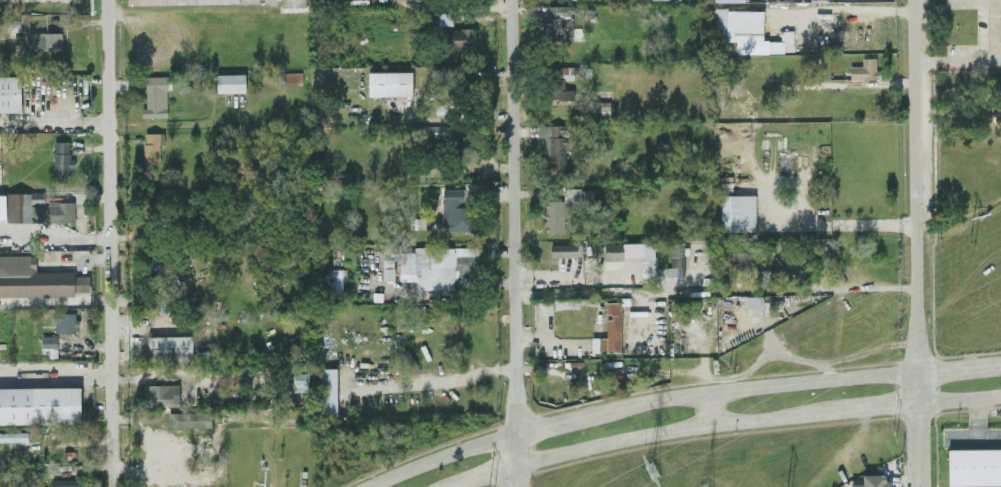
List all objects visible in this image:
building: (726, 0)
building: (179, 1)
building: (293, 3)
road: (852, 7)
building: (559, 22)
building: (741, 22)
building: (719, 29)
building: (459, 37)
building: (45, 40)
building: (770, 43)
road: (960, 59)
building: (865, 69)
building: (291, 77)
building: (562, 81)
building: (231, 82)
building: (390, 82)
building: (10, 92)
building: (155, 96)
building: (600, 106)
building: (441, 108)
road: (53, 120)
building: (434, 130)
building: (152, 145)
building: (469, 146)
road: (511, 146)
building: (555, 146)
building: (62, 159)
road: (918, 184)
building: (457, 206)
building: (34, 207)
building: (737, 211)
road: (804, 216)
building: (554, 218)
building: (418, 222)
road: (874, 222)
power tower: (970, 239)
road: (107, 241)
building: (731, 244)
building: (564, 249)
building: (636, 254)
building: (733, 258)
building: (677, 259)
building: (439, 266)
building: (388, 269)
building: (37, 278)
building: (337, 279)
road: (716, 289)
building: (753, 300)
road: (54, 302)
building: (545, 306)
building: (65, 321)
building: (610, 329)
building: (49, 341)
building: (170, 346)
road: (514, 361)
road: (1000, 361)
power tower: (732, 366)
road: (960, 366)
road: (54, 376)
building: (301, 377)
road: (434, 380)
road: (759, 385)
building: (328, 390)
building: (162, 394)
building: (40, 403)
road: (84, 404)
road: (707, 407)
building: (190, 418)
road: (558, 419)
road: (722, 421)
road: (921, 428)
building: (13, 435)
road: (74, 440)
road: (439, 455)
road: (517, 458)
building: (974, 465)
power tower: (650, 472)
building: (874, 480)
building: (65, 482)

